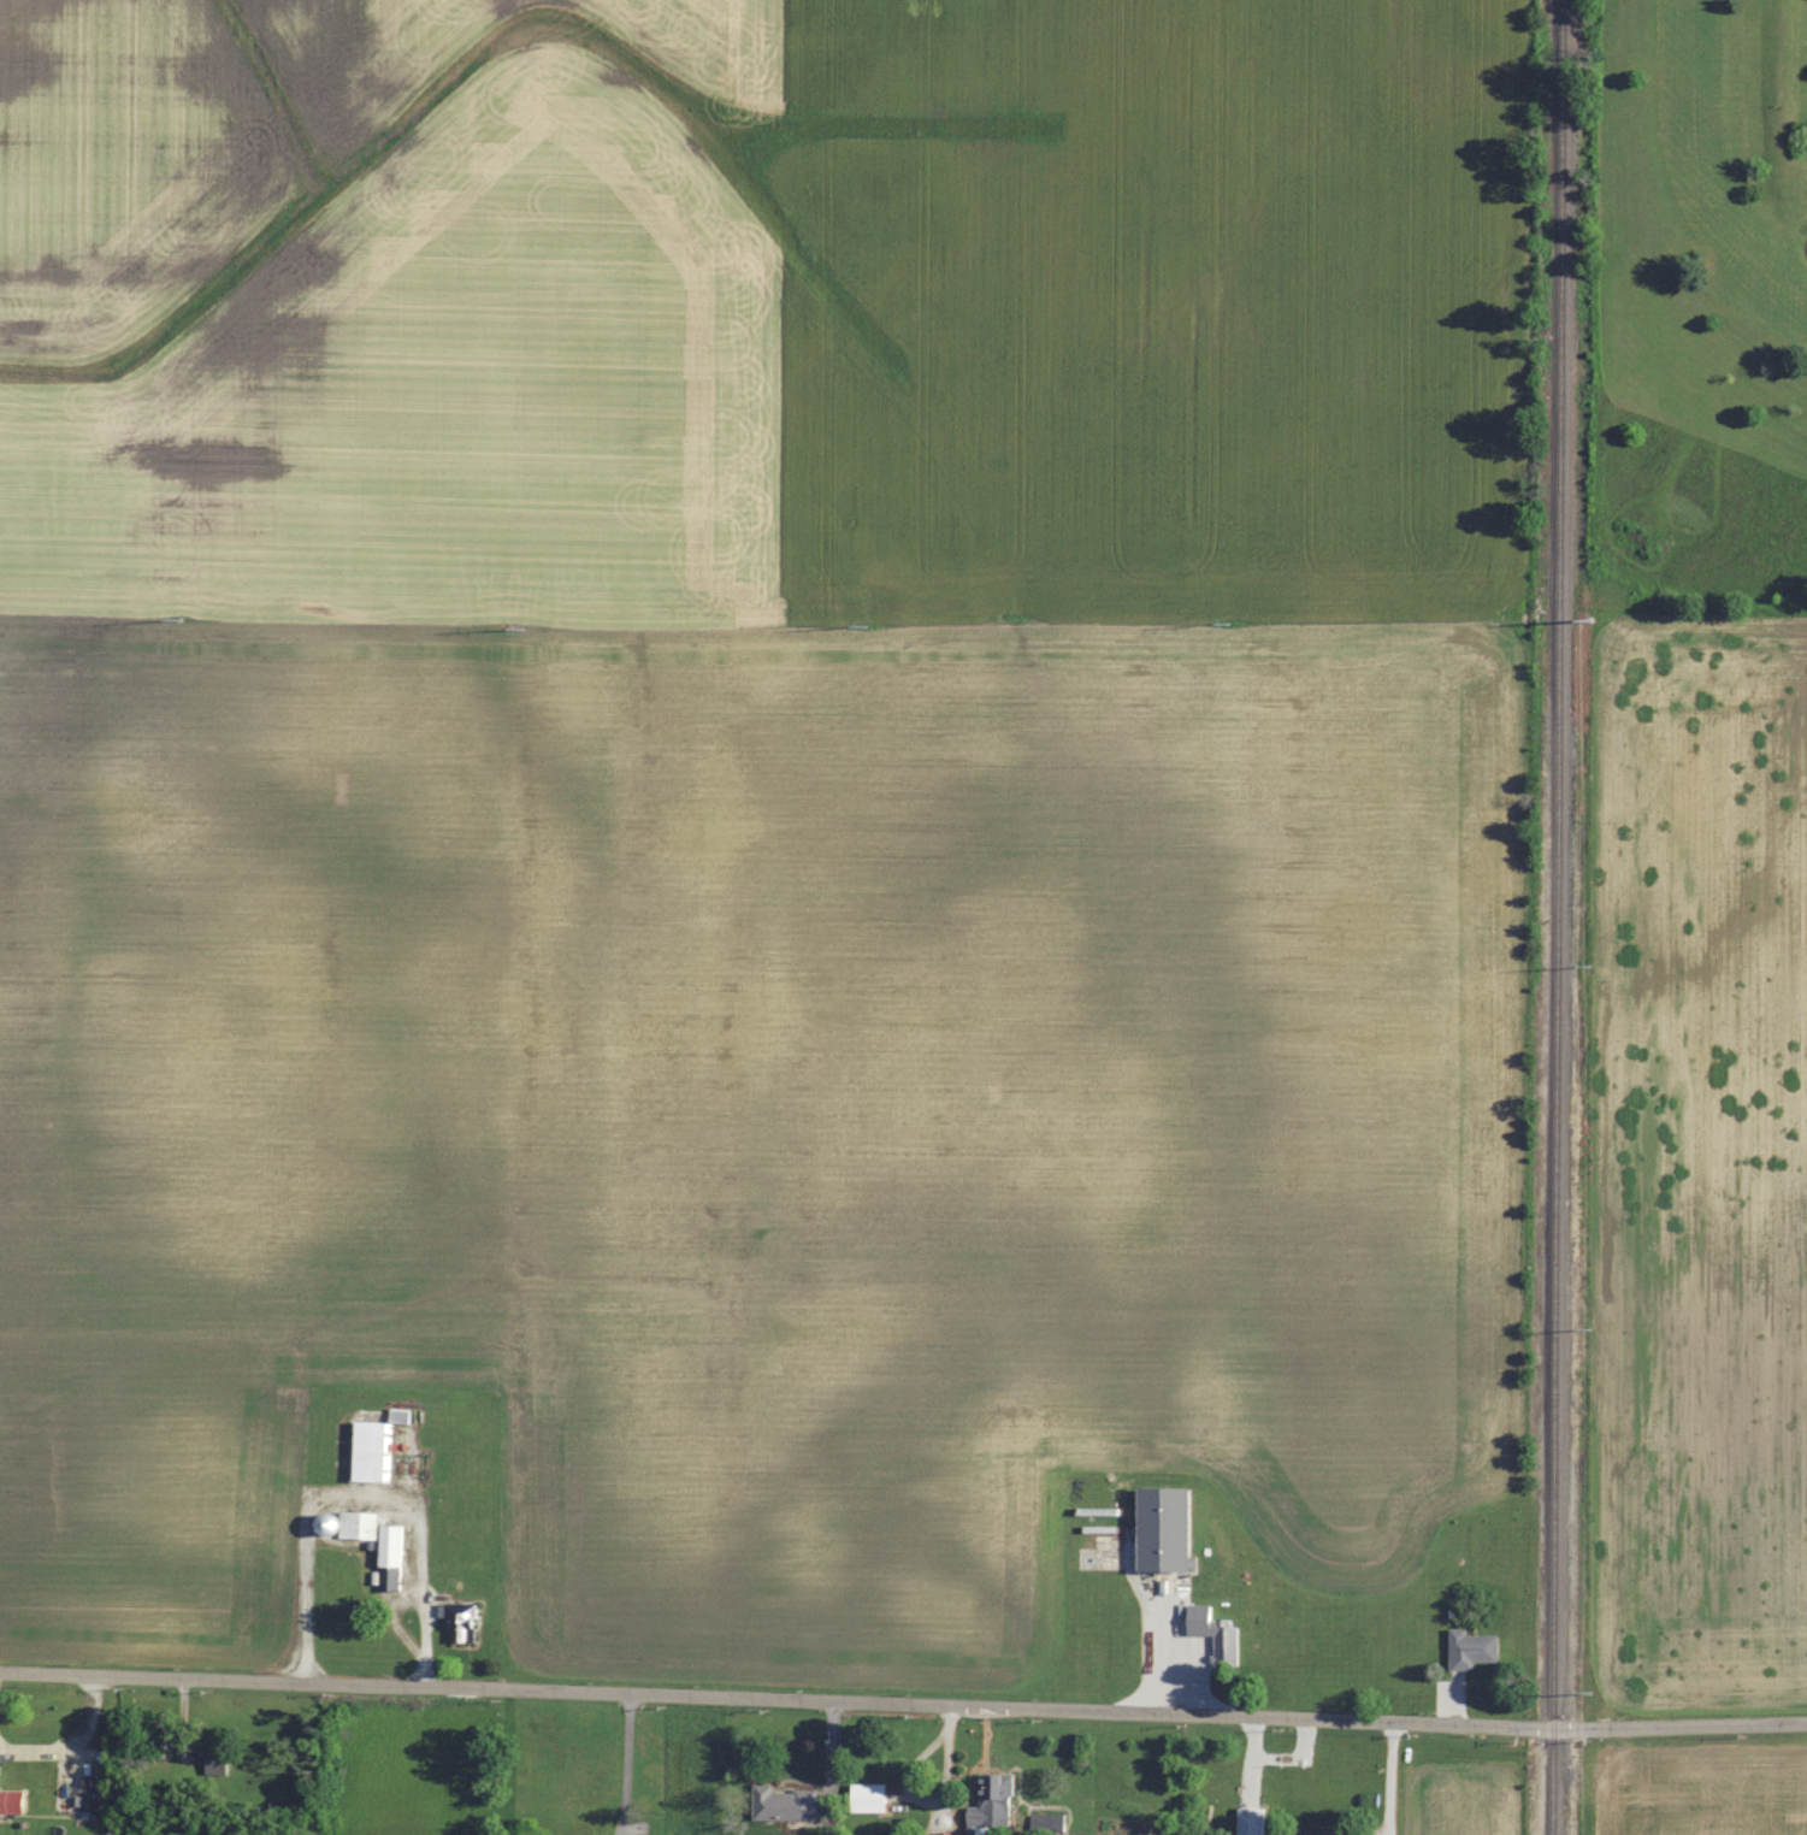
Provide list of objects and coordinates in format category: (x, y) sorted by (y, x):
railway: (1558, 916)
building: (402, 1415)
building: (372, 1451)
road: (370, 1507)
building: (352, 1526)
building: (1106, 1553)
building: (394, 1557)
building: (463, 1619)
building: (1227, 1641)
building: (1475, 1648)
road: (0, 1693)
road: (903, 1703)
building: (159, 1741)
road: (79, 1751)
building: (220, 1762)
road: (633, 1764)
building: (872, 1798)
building: (997, 1801)
building: (13, 1802)
building: (787, 1805)
building: (1254, 1822)
building: (1050, 1823)
building: (949, 1834)

